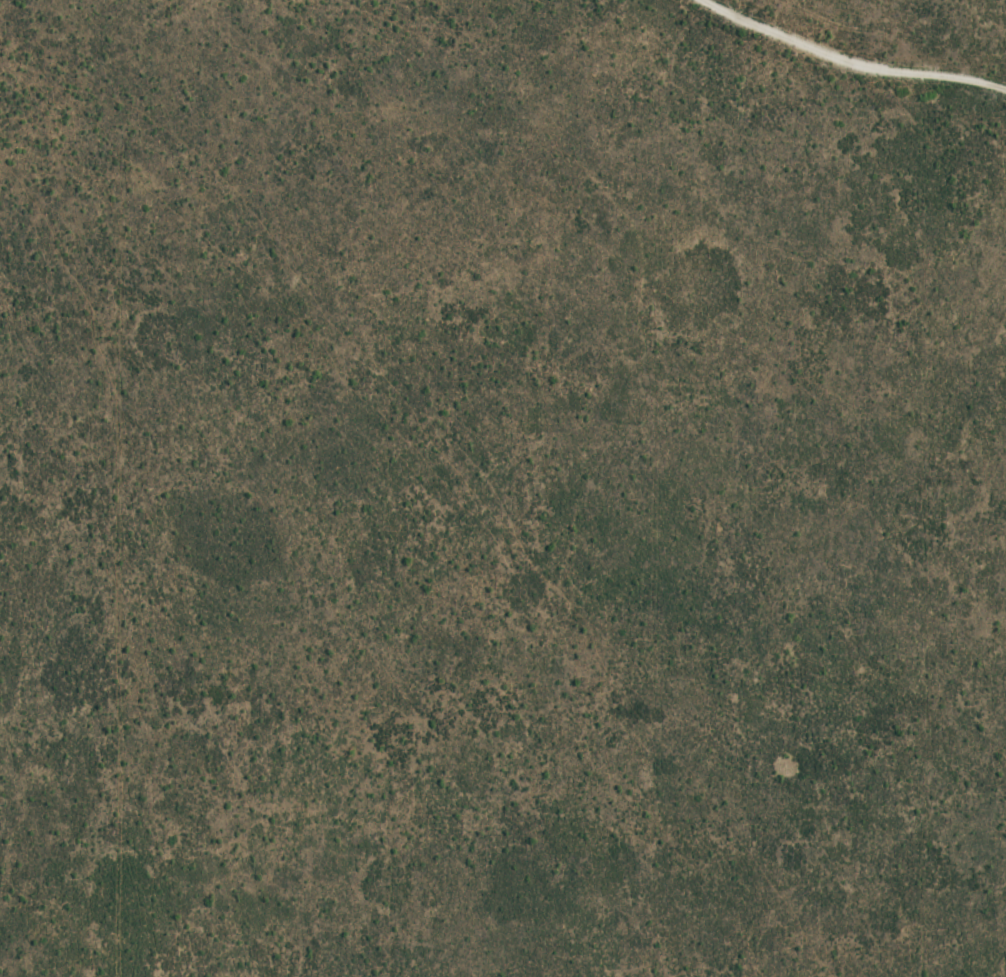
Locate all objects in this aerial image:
road: (929, 17)

